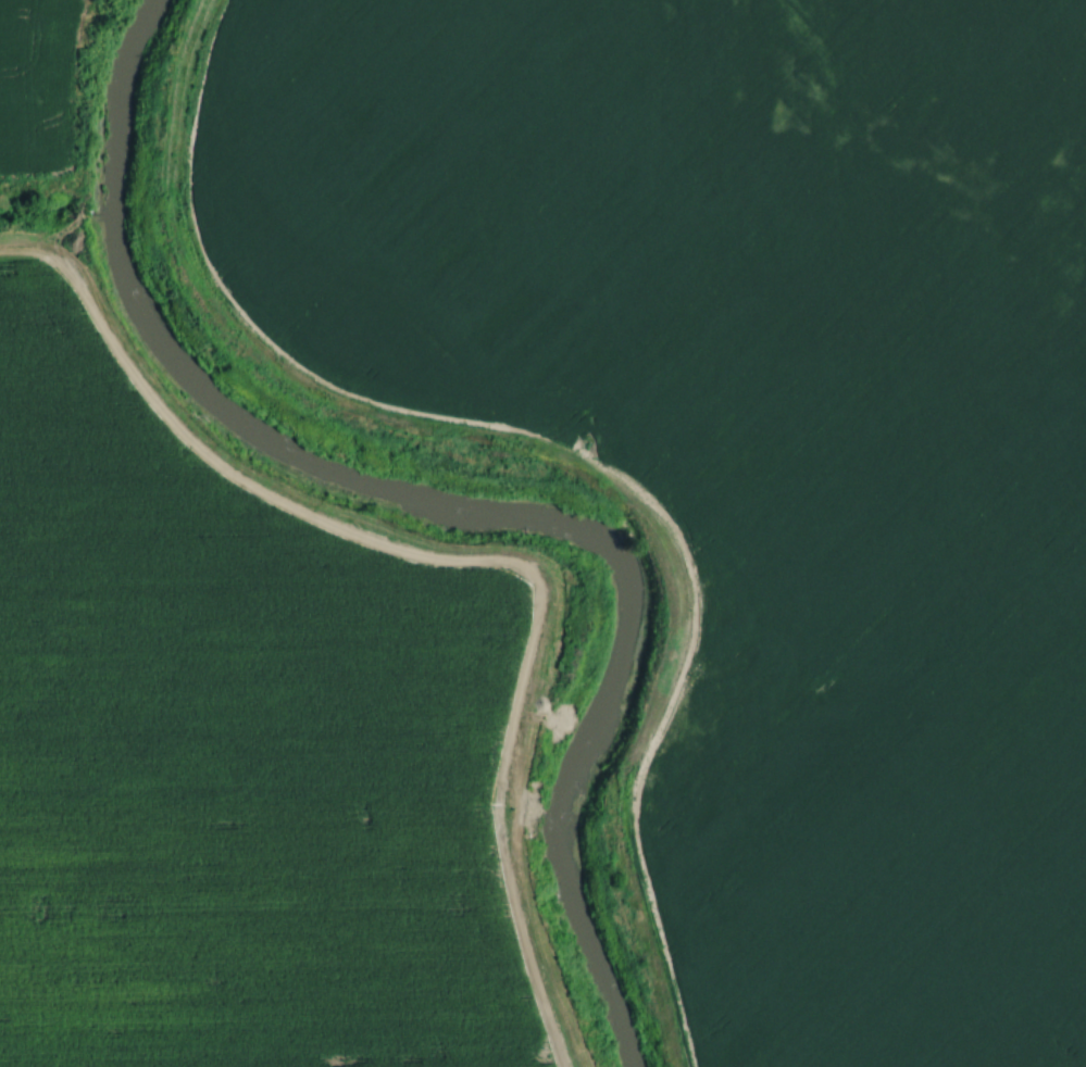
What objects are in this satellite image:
river: (470, 503)

